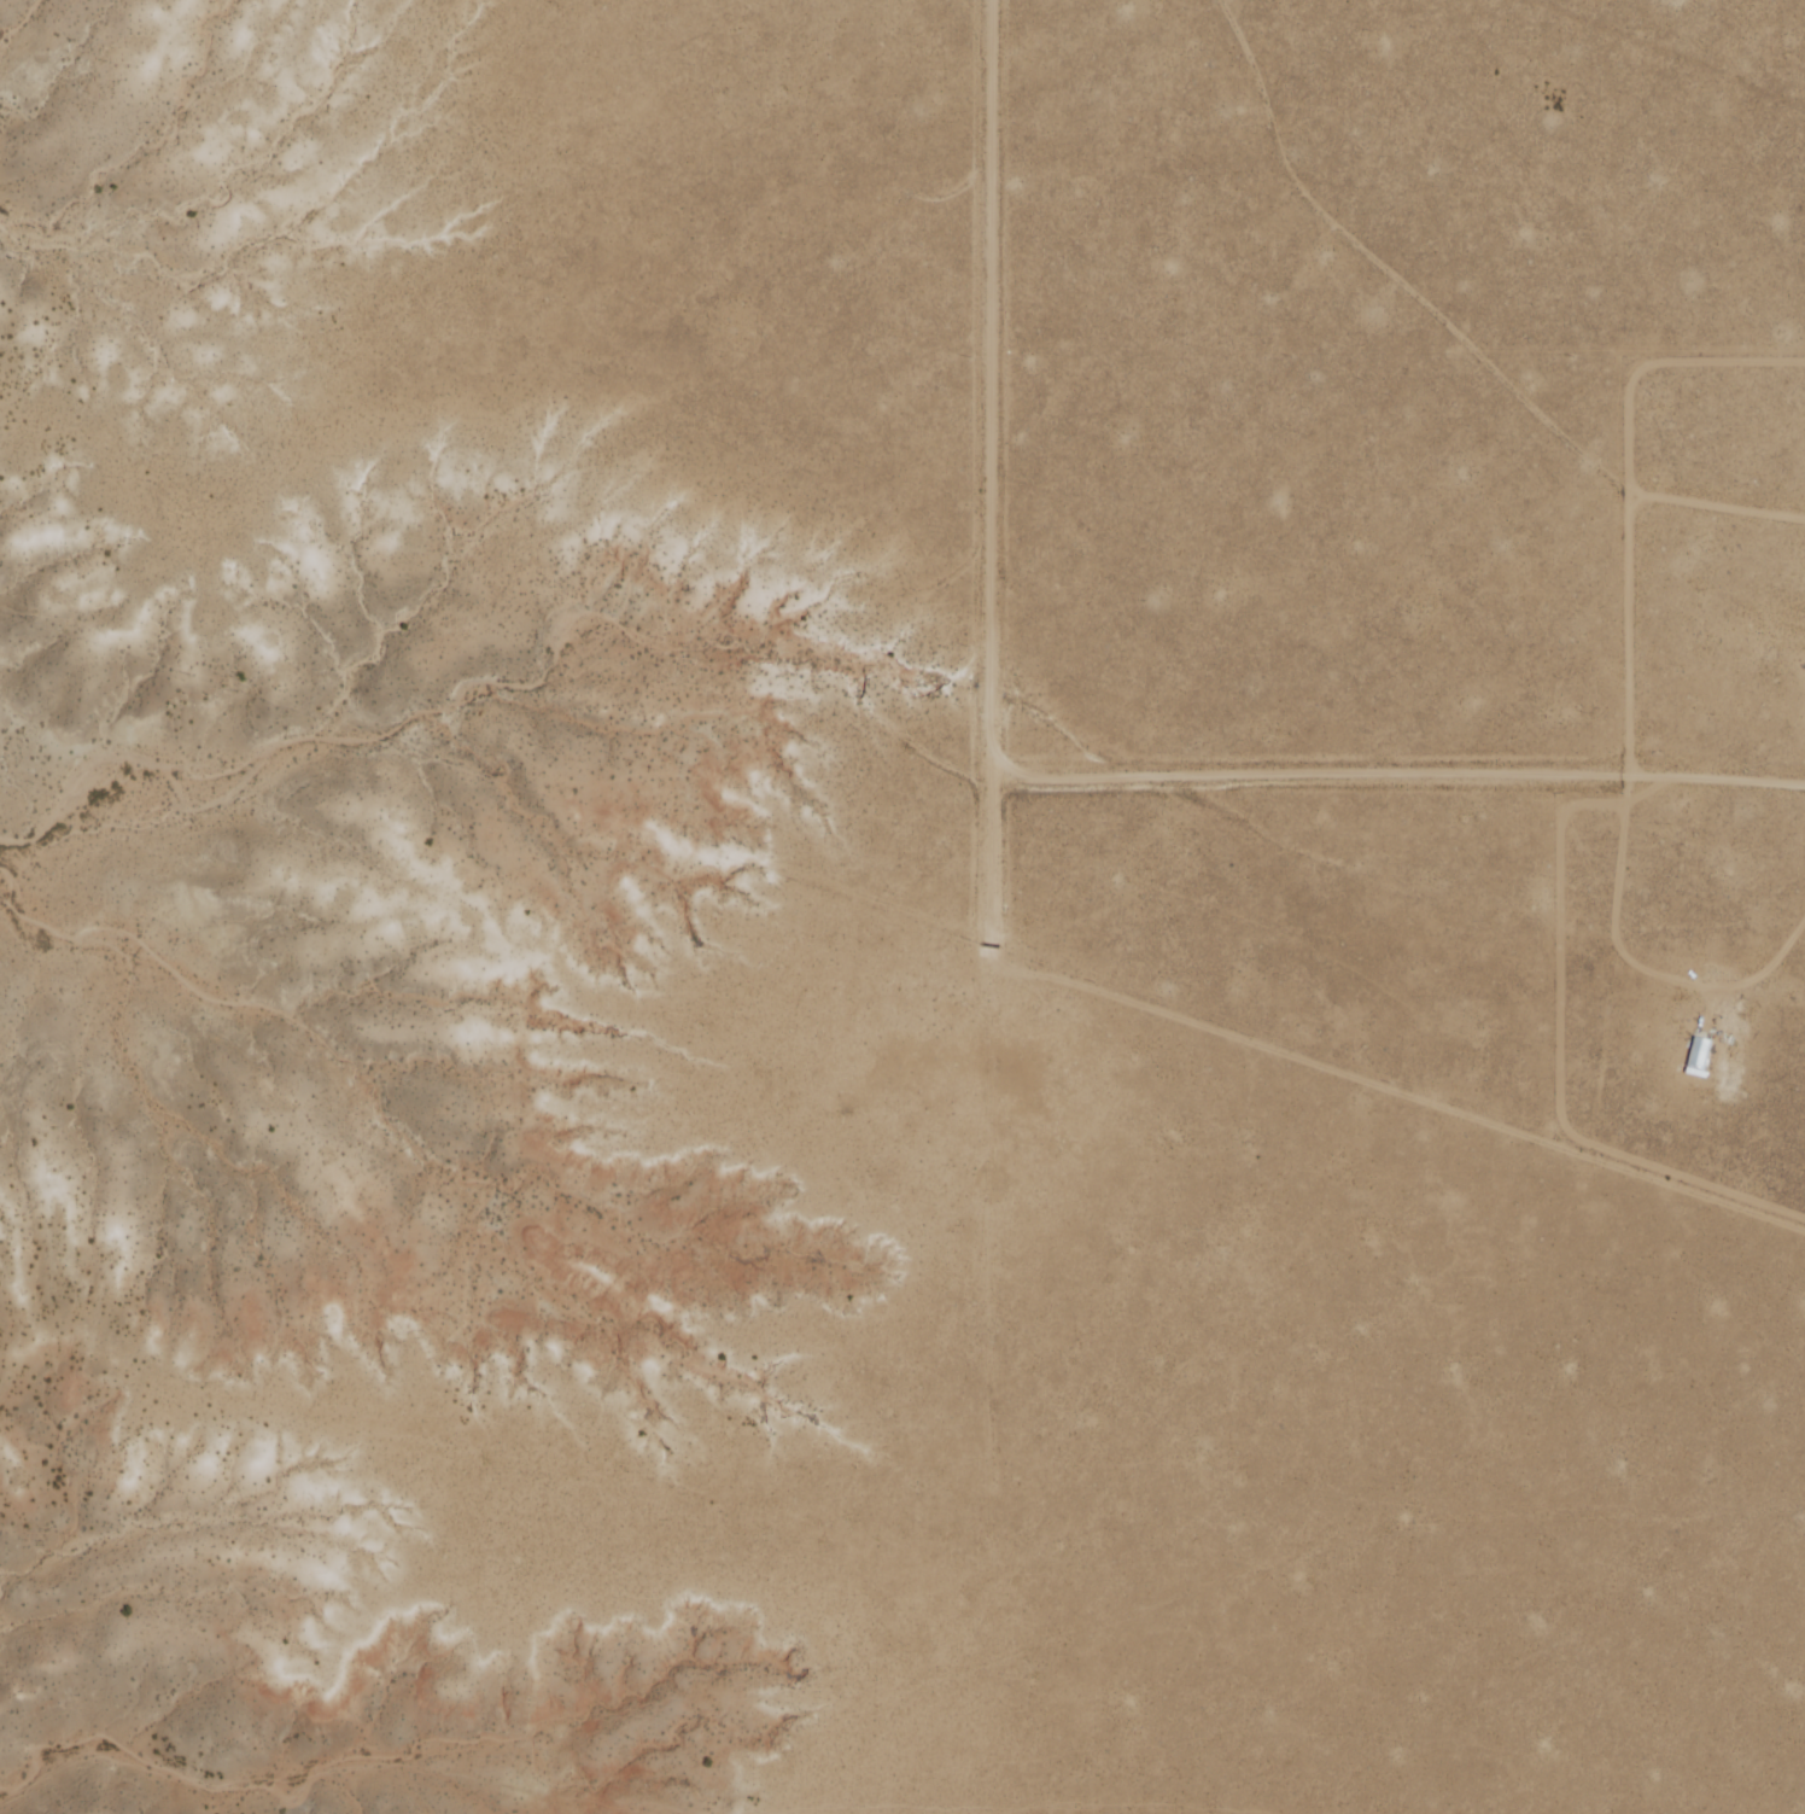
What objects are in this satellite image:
road: (988, 473)
road: (1396, 774)
road: (1618, 940)
road: (1281, 1048)
building: (1698, 1056)
road: (991, 1223)

